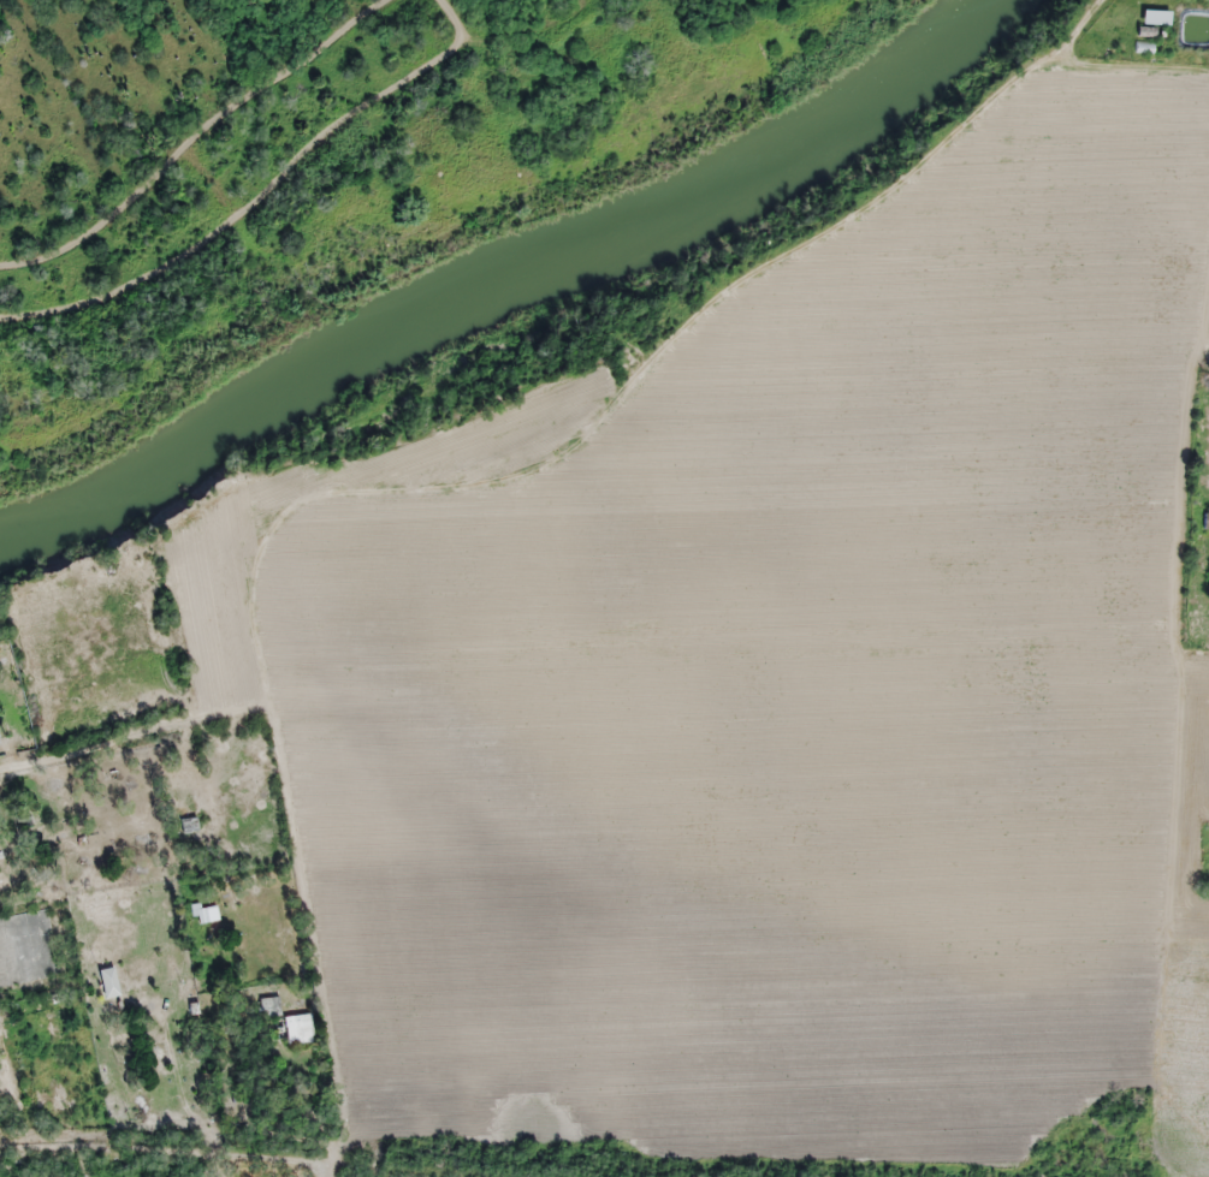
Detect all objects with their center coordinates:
river: (499, 277)
road: (128, 729)
road: (315, 944)

